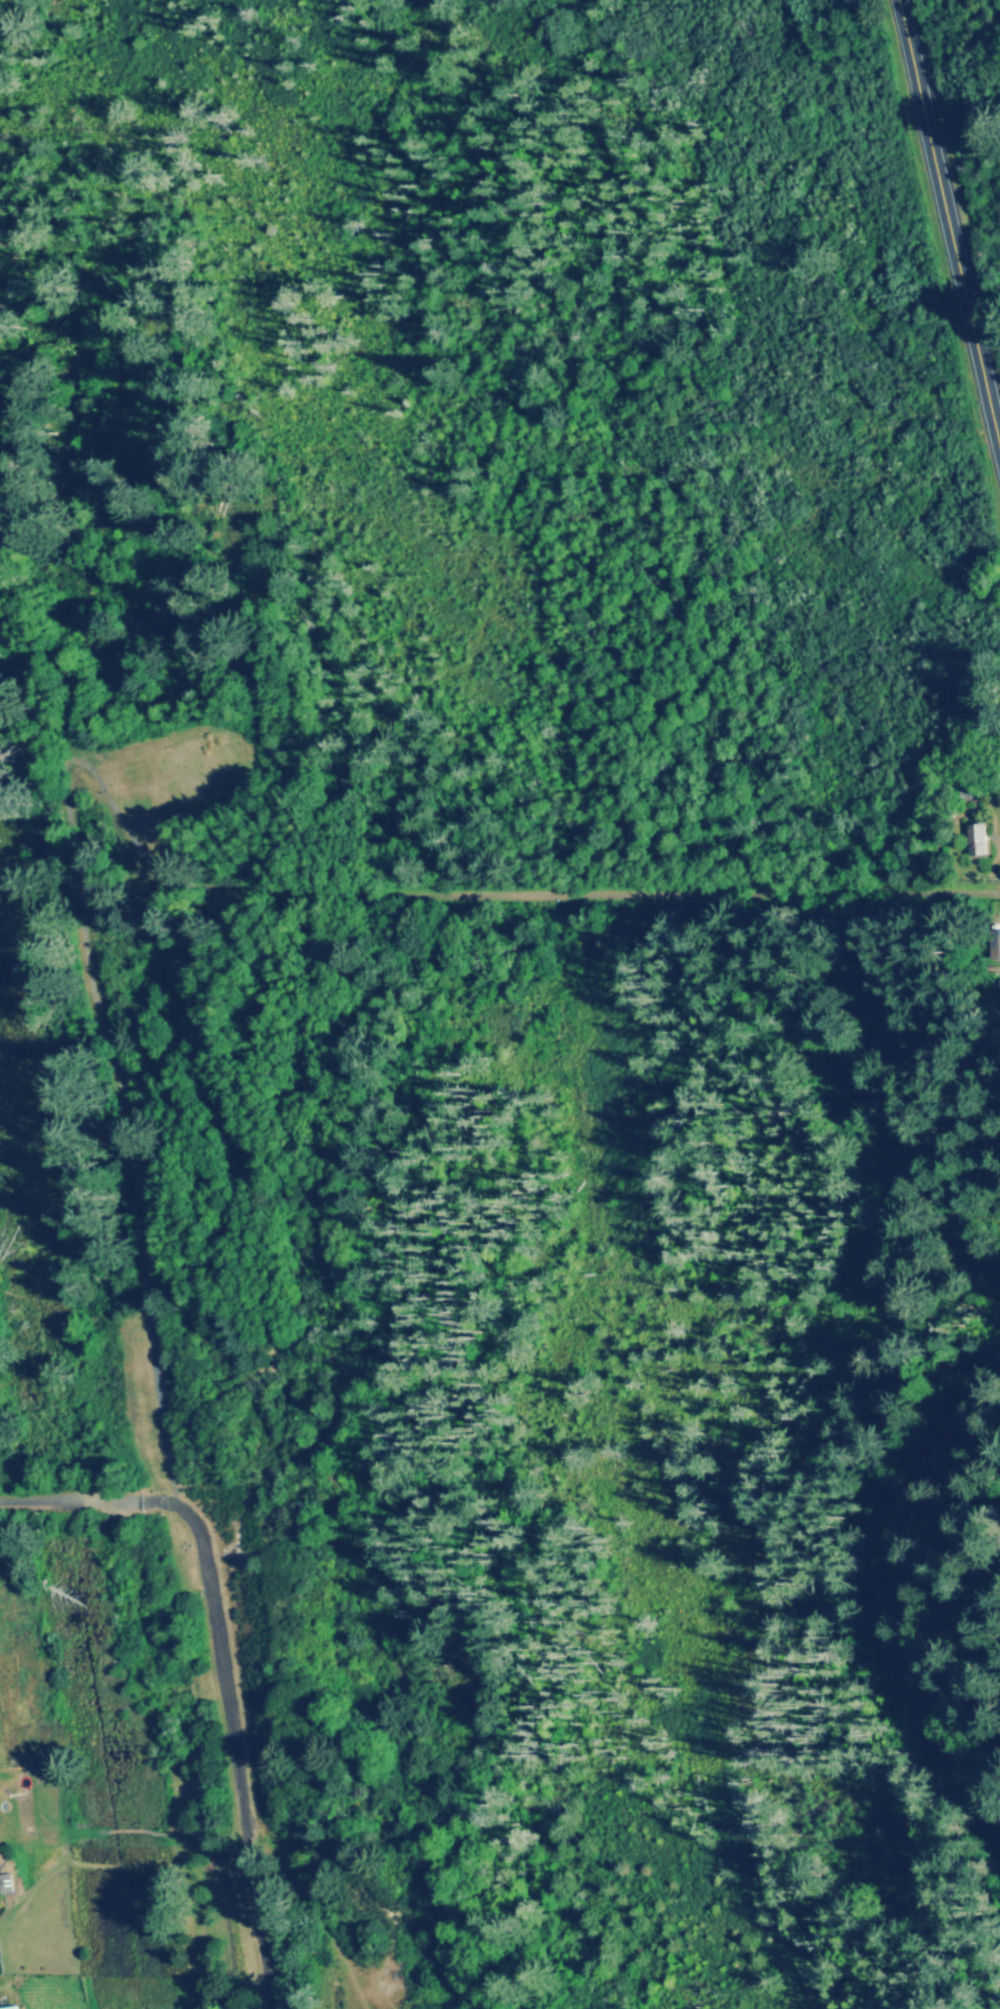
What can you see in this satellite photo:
road: (950, 218)
building: (977, 839)
park: (971, 854)
building: (997, 945)
railway: (95, 1080)
road: (96, 1504)
road: (889, 1597)
road: (237, 1760)
building: (5, 1885)
building: (6, 2006)

